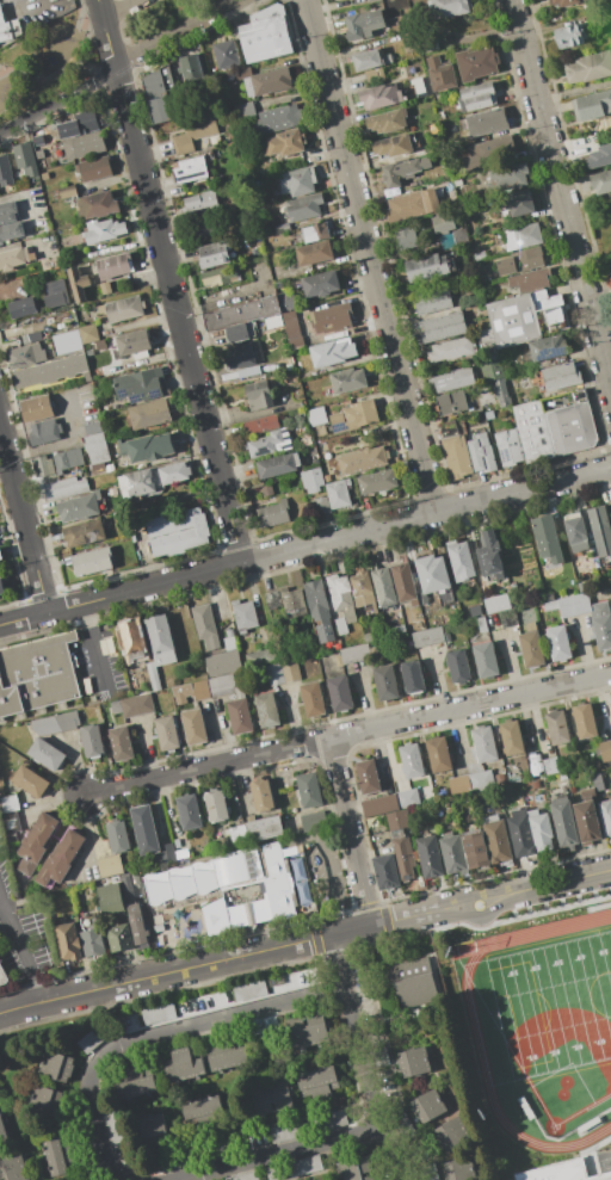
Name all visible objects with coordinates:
building: (360, 1)
building: (564, 2)
road: (23, 7)
building: (449, 7)
road: (118, 10)
building: (363, 24)
building: (12, 30)
building: (265, 33)
building: (570, 36)
building: (427, 42)
building: (610, 49)
building: (226, 54)
building: (366, 60)
park: (42, 62)
building: (476, 62)
building: (191, 68)
building: (588, 69)
road: (123, 70)
building: (440, 73)
building: (267, 81)
building: (416, 85)
building: (158, 93)
building: (379, 97)
building: (475, 97)
building: (592, 106)
building: (243, 111)
building: (277, 118)
building: (387, 121)
building: (483, 122)
building: (82, 123)
building: (452, 126)
building: (193, 132)
building: (39, 140)
building: (283, 143)
building: (84, 146)
building: (393, 146)
building: (486, 152)
building: (38, 154)
building: (600, 156)
building: (25, 159)
building: (93, 168)
building: (190, 171)
building: (403, 171)
building: (5, 172)
building: (43, 175)
building: (507, 178)
building: (297, 181)
building: (456, 181)
building: (601, 184)
building: (66, 191)
road: (23, 200)
building: (200, 203)
building: (519, 203)
building: (97, 205)
building: (412, 205)
building: (303, 206)
road: (560, 211)
building: (7, 212)
building: (442, 223)
building: (203, 227)
building: (10, 230)
building: (101, 230)
building: (315, 233)
building: (521, 236)
building: (405, 237)
road: (26, 240)
building: (314, 253)
building: (212, 254)
building: (480, 257)
building: (13, 258)
road: (366, 259)
building: (520, 261)
building: (113, 266)
building: (610, 267)
building: (426, 268)
building: (218, 276)
building: (530, 279)
road: (165, 283)
building: (78, 284)
building: (320, 284)
building: (104, 288)
building: (55, 294)
building: (433, 301)
building: (286, 303)
building: (21, 308)
building: (122, 309)
building: (476, 309)
building: (241, 313)
building: (331, 319)
building: (524, 319)
building: (273, 322)
building: (443, 327)
building: (290, 328)
building: (240, 332)
building: (87, 333)
building: (132, 342)
building: (68, 348)
building: (450, 348)
building: (548, 348)
building: (332, 352)
building: (25, 356)
building: (239, 357)
building: (49, 370)
building: (248, 371)
building: (490, 371)
building: (302, 375)
building: (85, 376)
building: (560, 376)
building: (347, 379)
building: (451, 379)
building: (140, 384)
building: (500, 393)
building: (258, 395)
building: (451, 403)
building: (36, 408)
building: (149, 413)
building: (315, 415)
building: (488, 415)
building: (353, 416)
building: (260, 425)
building: (556, 425)
building: (92, 427)
building: (448, 430)
building: (317, 431)
building: (44, 432)
road: (66, 441)
building: (270, 443)
building: (508, 446)
building: (94, 447)
building: (147, 447)
building: (481, 453)
building: (456, 457)
building: (67, 459)
building: (362, 459)
building: (43, 464)
building: (277, 465)
building: (109, 468)
building: (150, 480)
building: (311, 480)
building: (376, 481)
building: (64, 488)
building: (112, 492)
building: (337, 494)
building: (79, 507)
building: (320, 507)
building: (271, 514)
road: (21, 527)
building: (600, 530)
building: (175, 531)
building: (575, 532)
building: (84, 533)
building: (547, 538)
road: (304, 549)
building: (1, 555)
building: (489, 555)
building: (92, 561)
building: (459, 561)
building: (433, 576)
building: (403, 581)
building: (1, 587)
building: (384, 587)
building: (362, 589)
building: (341, 597)
building: (272, 599)
building: (316, 599)
building: (292, 603)
building: (496, 604)
building: (550, 605)
building: (574, 605)
building: (475, 611)
building: (243, 614)
building: (508, 618)
building: (481, 624)
building: (601, 624)
building: (205, 625)
building: (340, 626)
building: (395, 630)
building: (228, 632)
building: (369, 636)
building: (427, 637)
building: (130, 640)
building: (161, 640)
building: (558, 642)
building: (229, 643)
building: (334, 643)
building: (531, 644)
road: (94, 653)
building: (354, 654)
building: (260, 656)
building: (485, 660)
building: (223, 663)
building: (458, 666)
building: (290, 671)
building: (37, 674)
building: (274, 674)
building: (153, 677)
building: (412, 677)
building: (385, 682)
building: (221, 685)
building: (200, 690)
building: (181, 693)
building: (339, 693)
building: (311, 699)
building: (136, 705)
building: (115, 706)
building: (266, 710)
building: (239, 715)
building: (584, 721)
building: (55, 723)
building: (195, 727)
building: (557, 727)
building: (167, 734)
road: (348, 735)
building: (511, 737)
building: (91, 741)
building: (121, 743)
building: (483, 743)
building: (605, 750)
building: (47, 754)
building: (438, 754)
building: (411, 760)
building: (550, 765)
building: (368, 776)
building: (499, 778)
building: (481, 780)
building: (30, 781)
building: (598, 781)
building: (458, 784)
building: (532, 785)
building: (308, 790)
building: (587, 792)
building: (261, 795)
building: (407, 799)
building: (10, 804)
building: (216, 805)
building: (378, 805)
building: (189, 811)
building: (605, 816)
building: (399, 820)
building: (11, 821)
building: (313, 821)
building: (587, 821)
building: (564, 823)
building: (264, 828)
building: (144, 829)
building: (541, 830)
road: (352, 833)
building: (520, 834)
building: (237, 835)
building: (117, 836)
building: (495, 839)
building: (36, 842)
road: (321, 850)
building: (475, 850)
building: (167, 853)
building: (452, 853)
building: (428, 855)
building: (403, 857)
building: (60, 859)
building: (110, 865)
road: (327, 869)
building: (385, 871)
building: (205, 881)
building: (235, 883)
building: (181, 886)
building: (128, 888)
building: (158, 891)
building: (111, 901)
building: (216, 918)
building: (136, 925)
building: (158, 928)
building: (119, 938)
building: (68, 940)
building: (92, 941)
road: (305, 944)
track: (476, 945)
road: (21, 954)
building: (2, 976)
building: (413, 983)
building: (247, 989)
park: (554, 1003)
building: (156, 1014)
building: (307, 1030)
track: (545, 1030)
building: (95, 1036)
road: (158, 1040)
building: (227, 1057)
building: (379, 1057)
road: (362, 1058)
building: (413, 1062)
building: (183, 1065)
building: (56, 1067)
building: (134, 1083)
building: (317, 1083)
building: (271, 1098)
building: (47, 1099)
building: (427, 1106)
building: (202, 1108)
building: (334, 1119)
building: (400, 1124)
building: (150, 1126)
building: (112, 1128)
building: (2, 1129)
building: (285, 1131)
building: (451, 1133)
road: (282, 1154)
building: (58, 1155)
building: (294, 1168)
building: (357, 1168)
building: (16, 1169)
building: (458, 1169)
building: (427, 1172)
building: (243, 1176)
building: (610, 1179)

